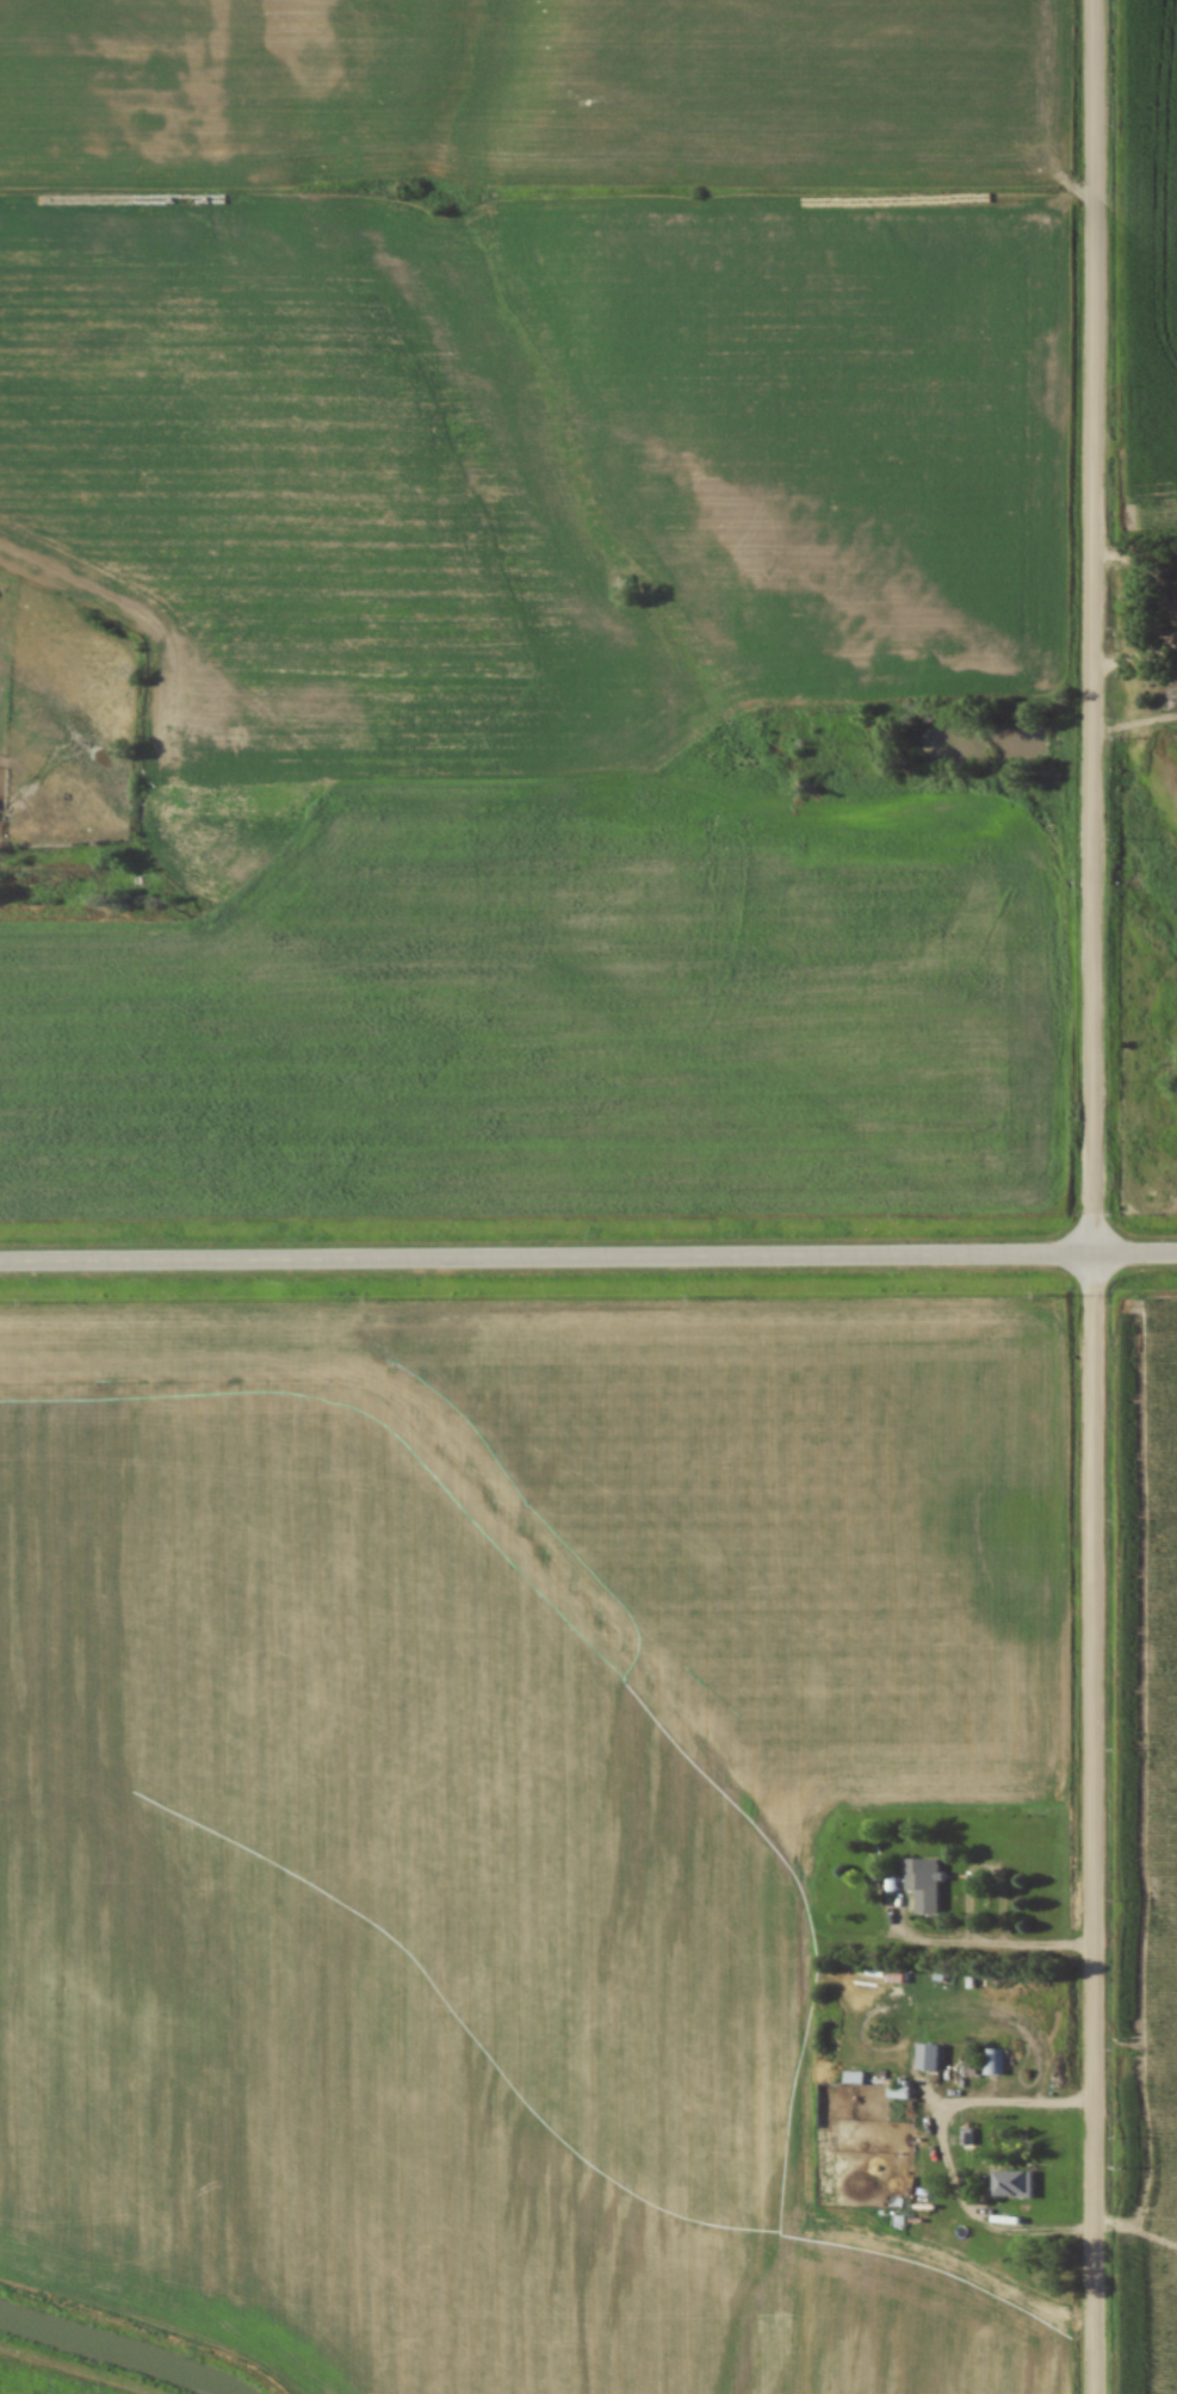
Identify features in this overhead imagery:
crop: (1148, 250)
crop: (534, 591)
road: (1172, 614)
road: (1092, 1197)
road: (588, 1258)
crop: (494, 1812)
crop: (1152, 1855)
building: (922, 1881)
road: (962, 1933)
road: (1049, 1947)
building: (896, 1976)
building: (927, 2055)
building: (992, 2063)
building: (853, 2077)
building: (897, 2091)
building: (965, 2136)
road: (941, 2150)
building: (1010, 2183)

